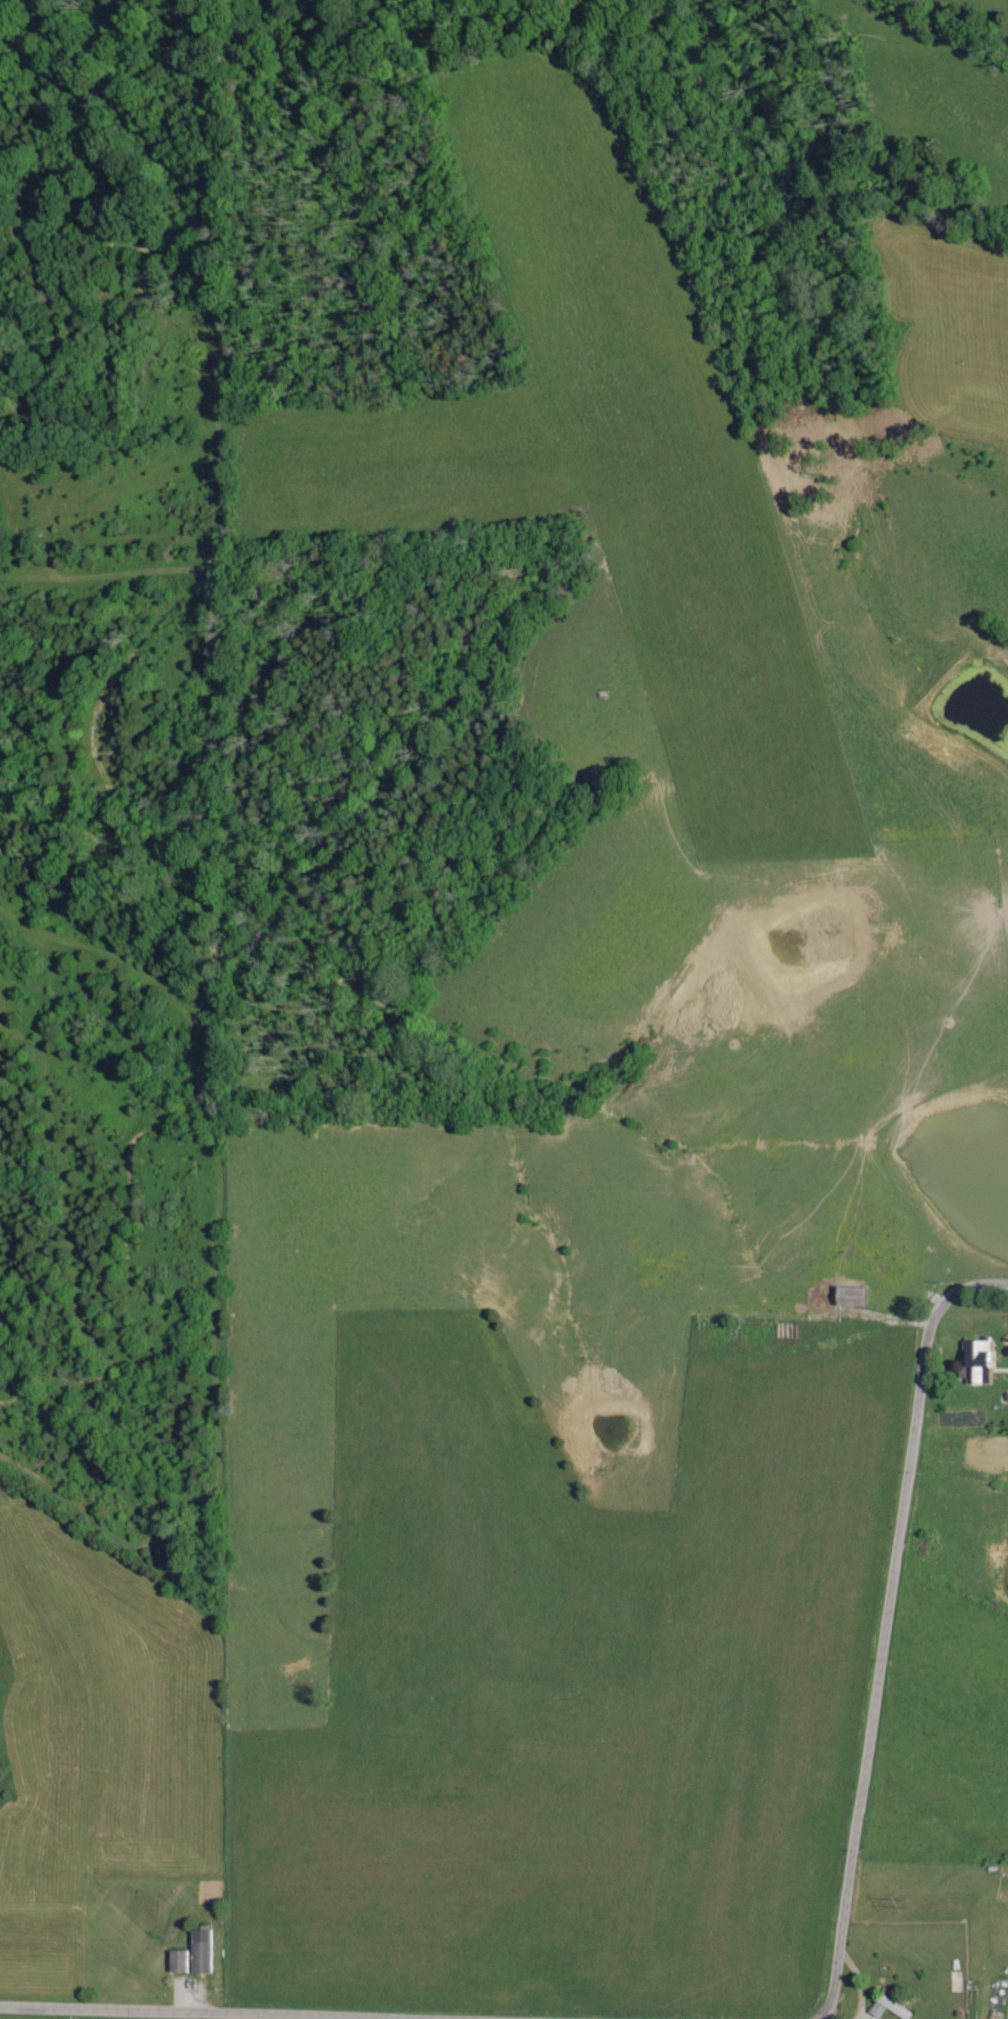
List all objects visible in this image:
building: (856, 1297)
building: (980, 1362)
road: (886, 1627)
building: (202, 1952)
building: (179, 1963)
building: (878, 2011)
road: (196, 2012)

